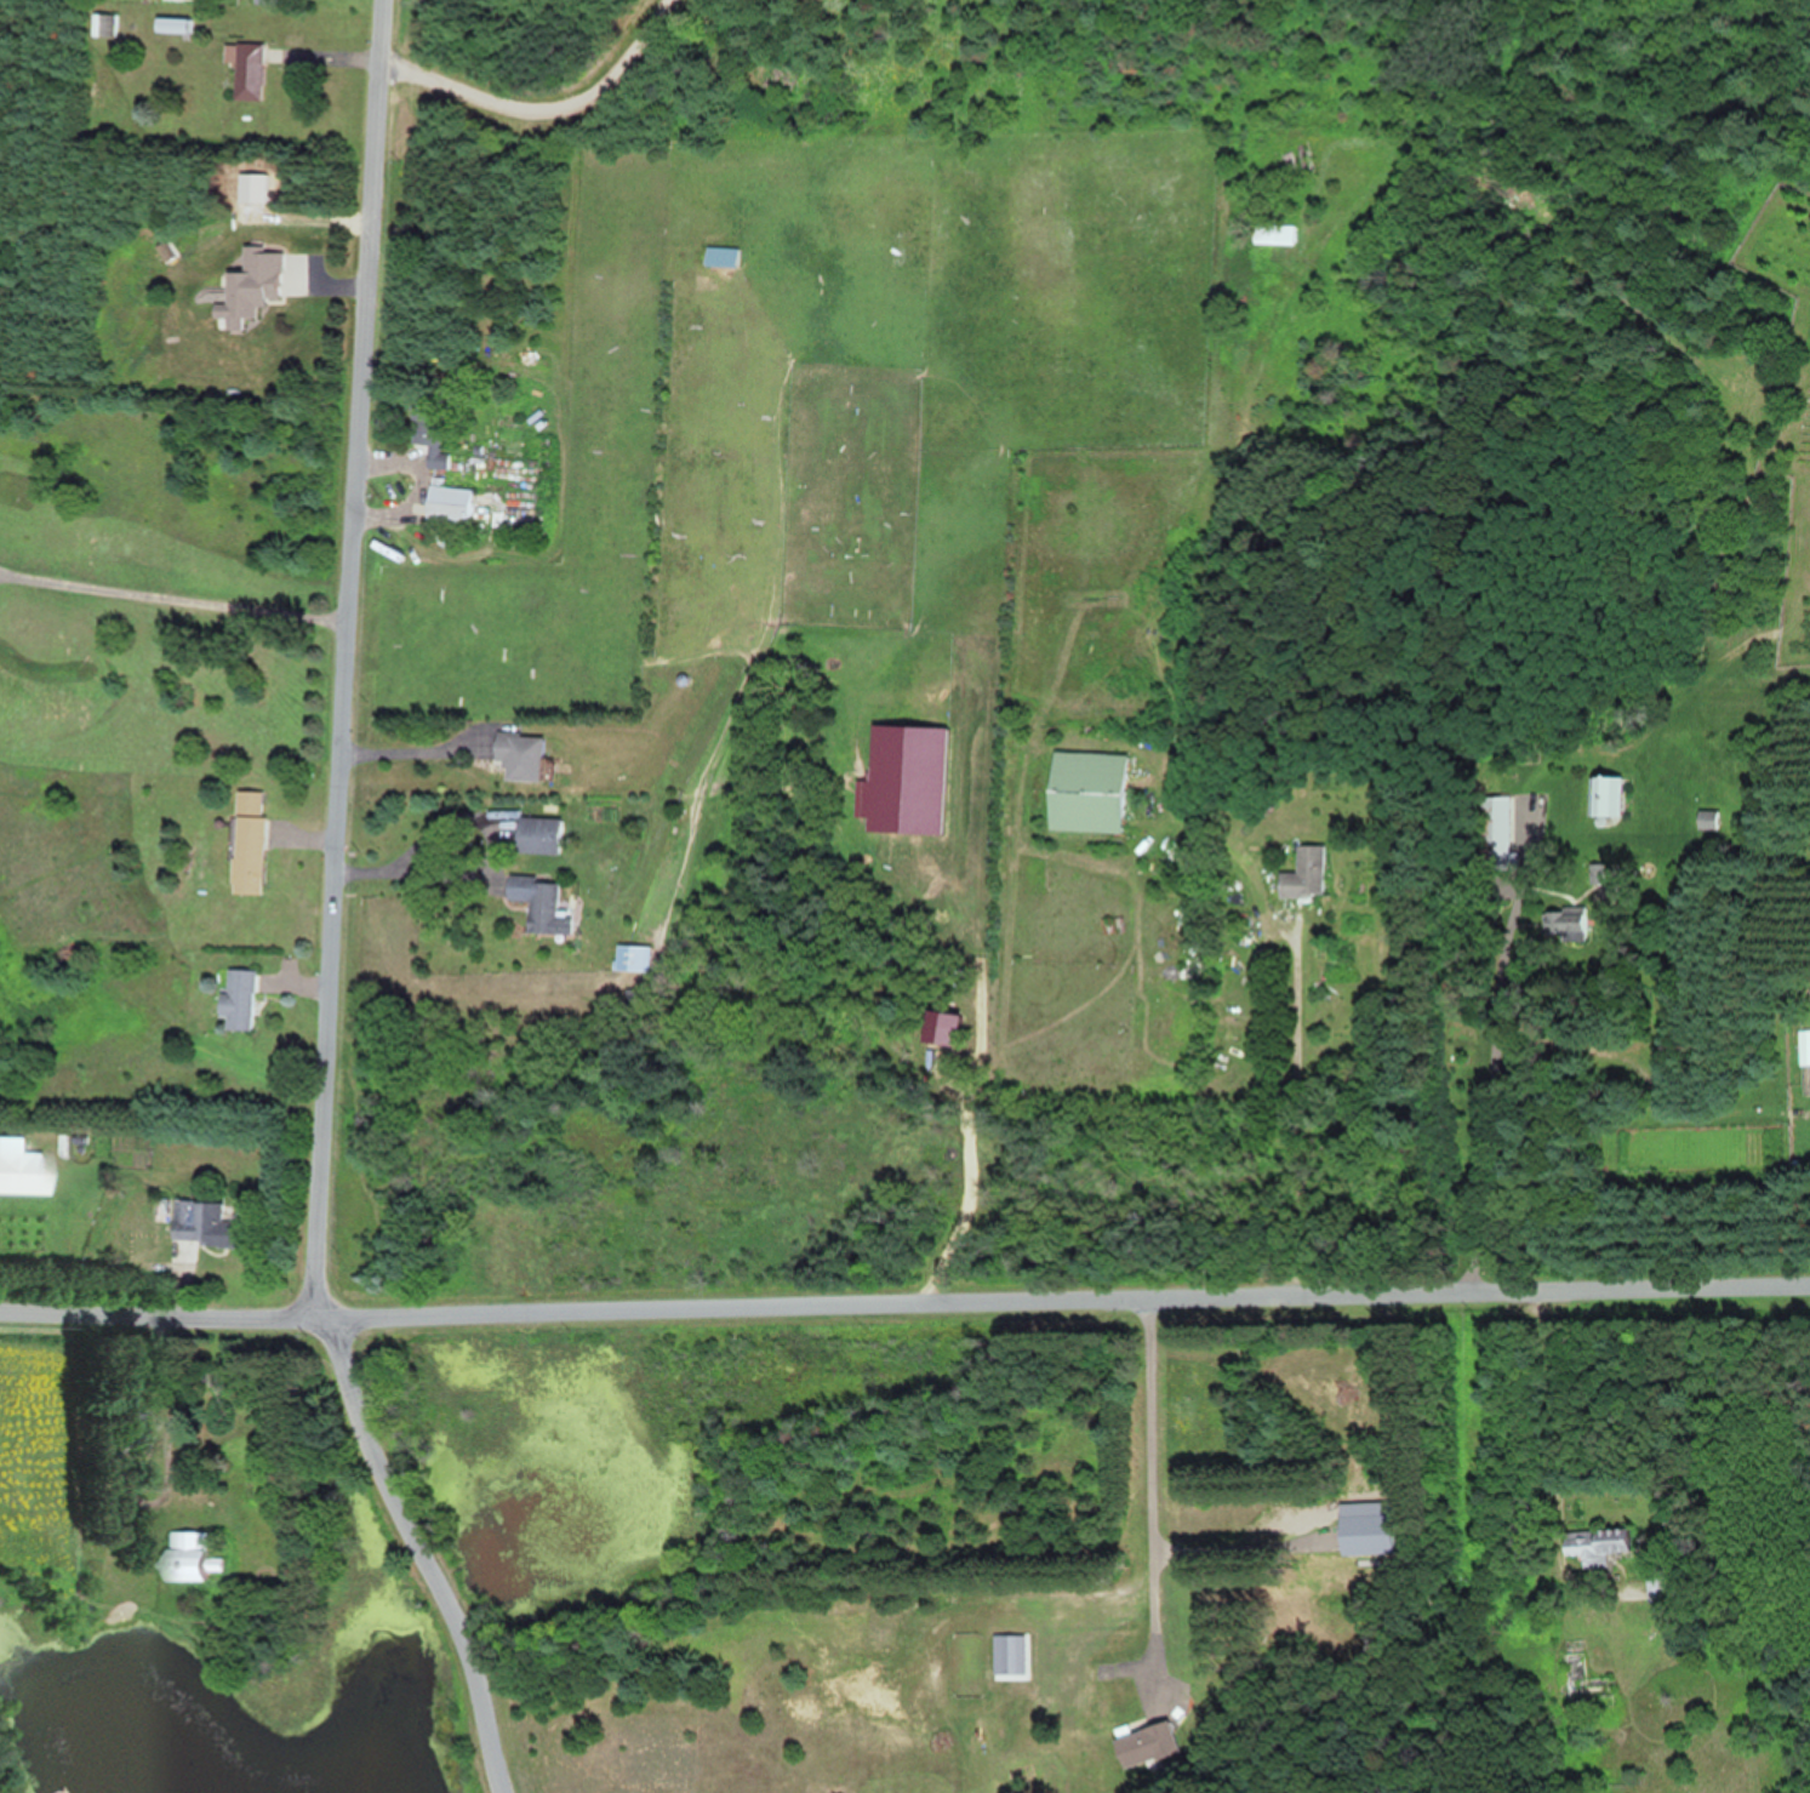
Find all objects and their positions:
building: (103, 24)
building: (245, 69)
building: (1272, 233)
building: (720, 255)
building: (245, 293)
building: (427, 429)
building: (447, 503)
road: (169, 595)
road: (339, 661)
building: (518, 755)
building: (1084, 792)
building: (1605, 795)
building: (1706, 818)
building: (1495, 833)
building: (246, 841)
road: (396, 860)
building: (1302, 874)
building: (538, 903)
building: (630, 957)
building: (236, 999)
building: (18, 1169)
building: (202, 1224)
road: (904, 1314)
building: (1347, 1392)
building: (129, 1433)
road: (1146, 1498)
road: (1229, 1531)
building: (1364, 1532)
building: (1593, 1549)
road: (422, 1554)
building: (182, 1559)
building: (1657, 1586)
building: (1004, 1656)
building: (1578, 1680)
building: (1144, 1743)

